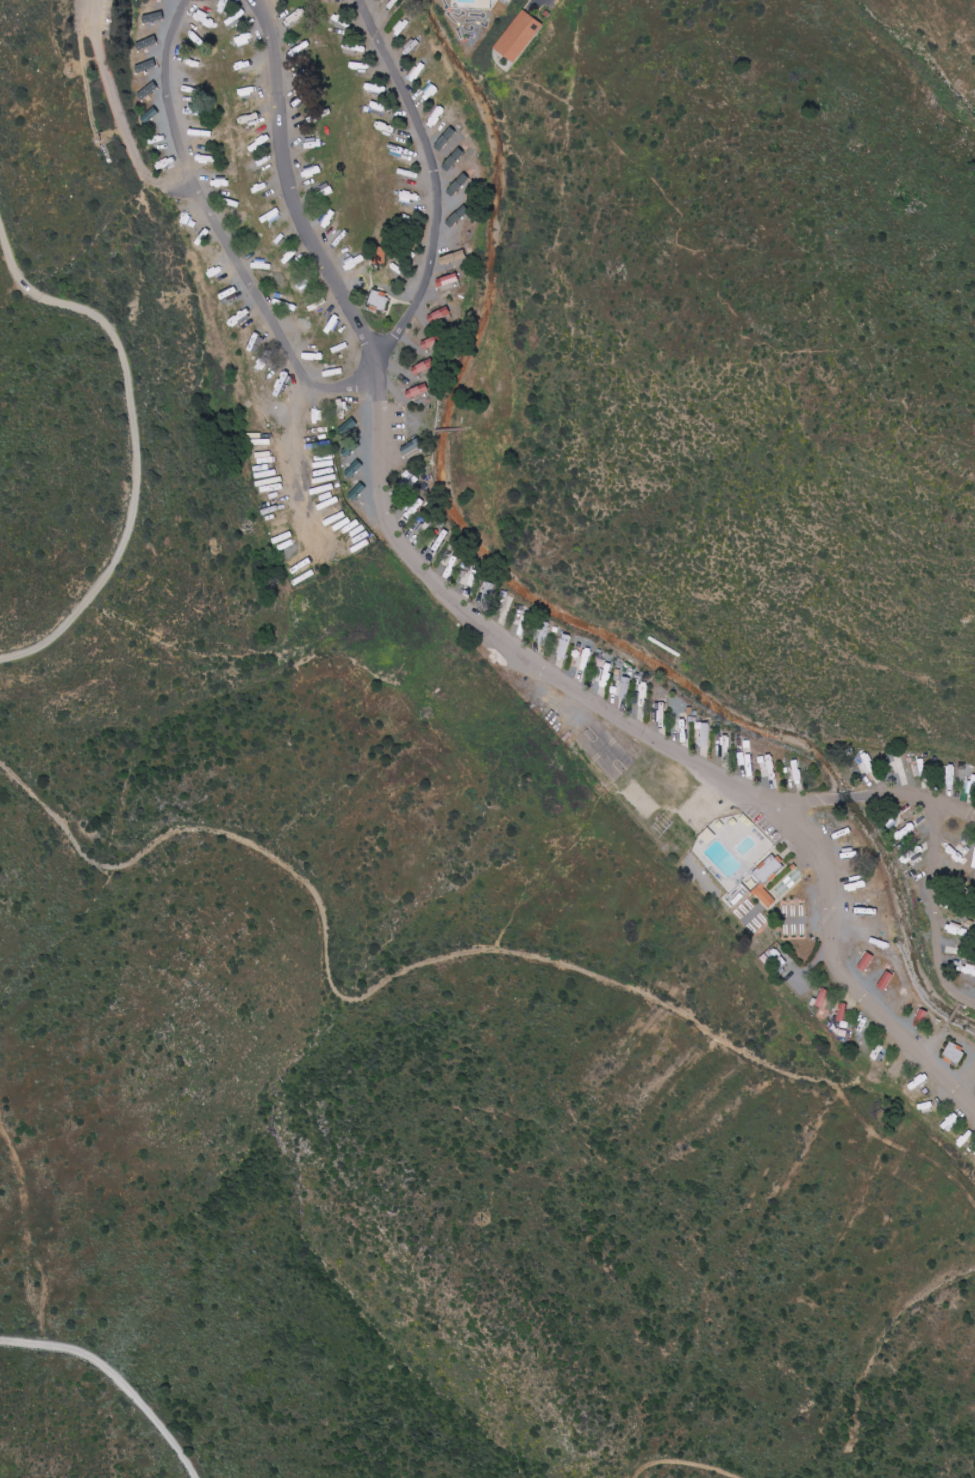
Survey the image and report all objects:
building: (485, 3)
road: (556, 6)
building: (144, 44)
building: (527, 44)
road: (121, 115)
road: (441, 188)
building: (380, 255)
building: (379, 299)
building: (440, 315)
building: (432, 342)
building: (424, 366)
road: (340, 379)
road: (139, 441)
road: (666, 745)
road: (883, 806)
road: (924, 913)
building: (868, 962)
road: (437, 971)
building: (887, 980)
road: (111, 1387)
road: (688, 1470)

